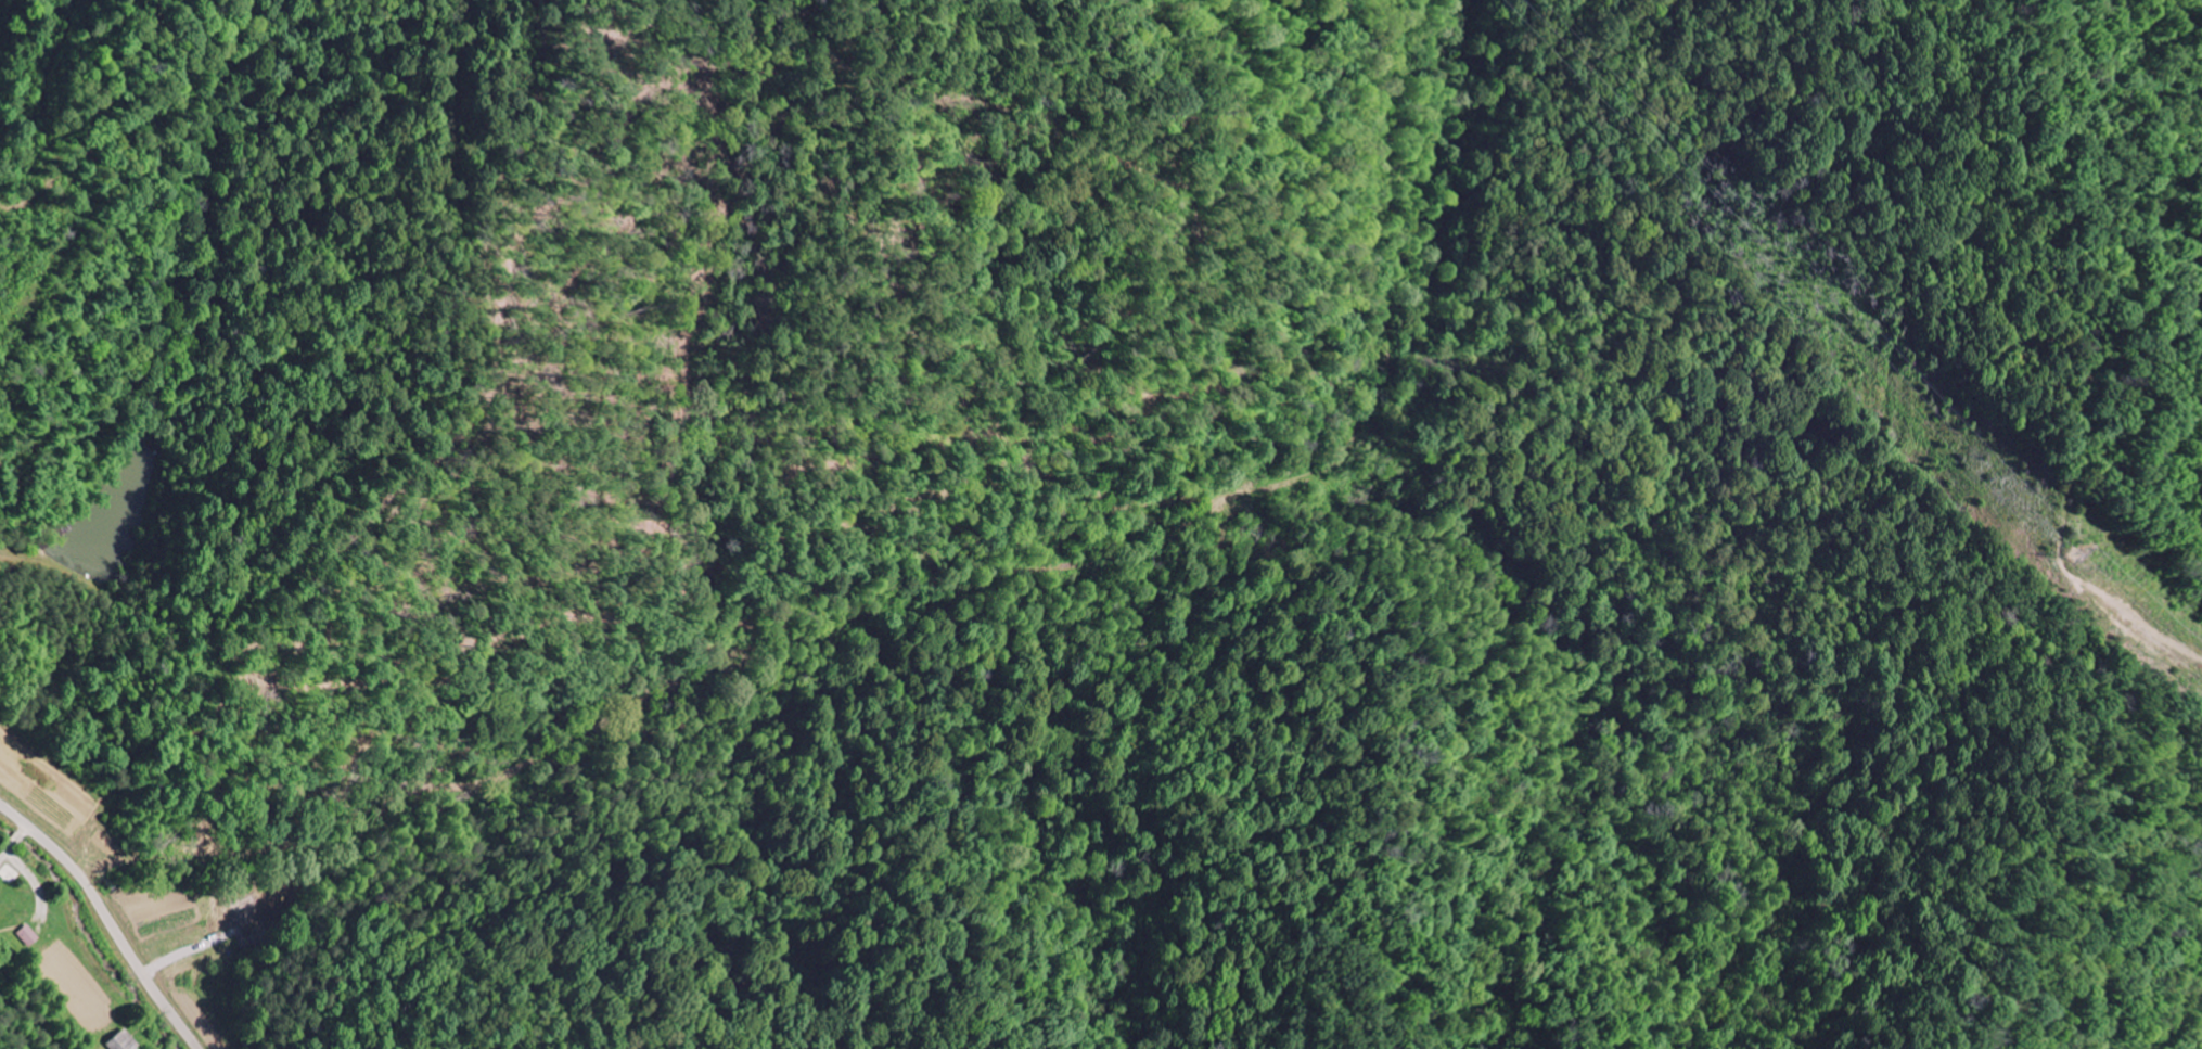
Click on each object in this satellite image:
power tower: (2075, 563)
road: (107, 919)

